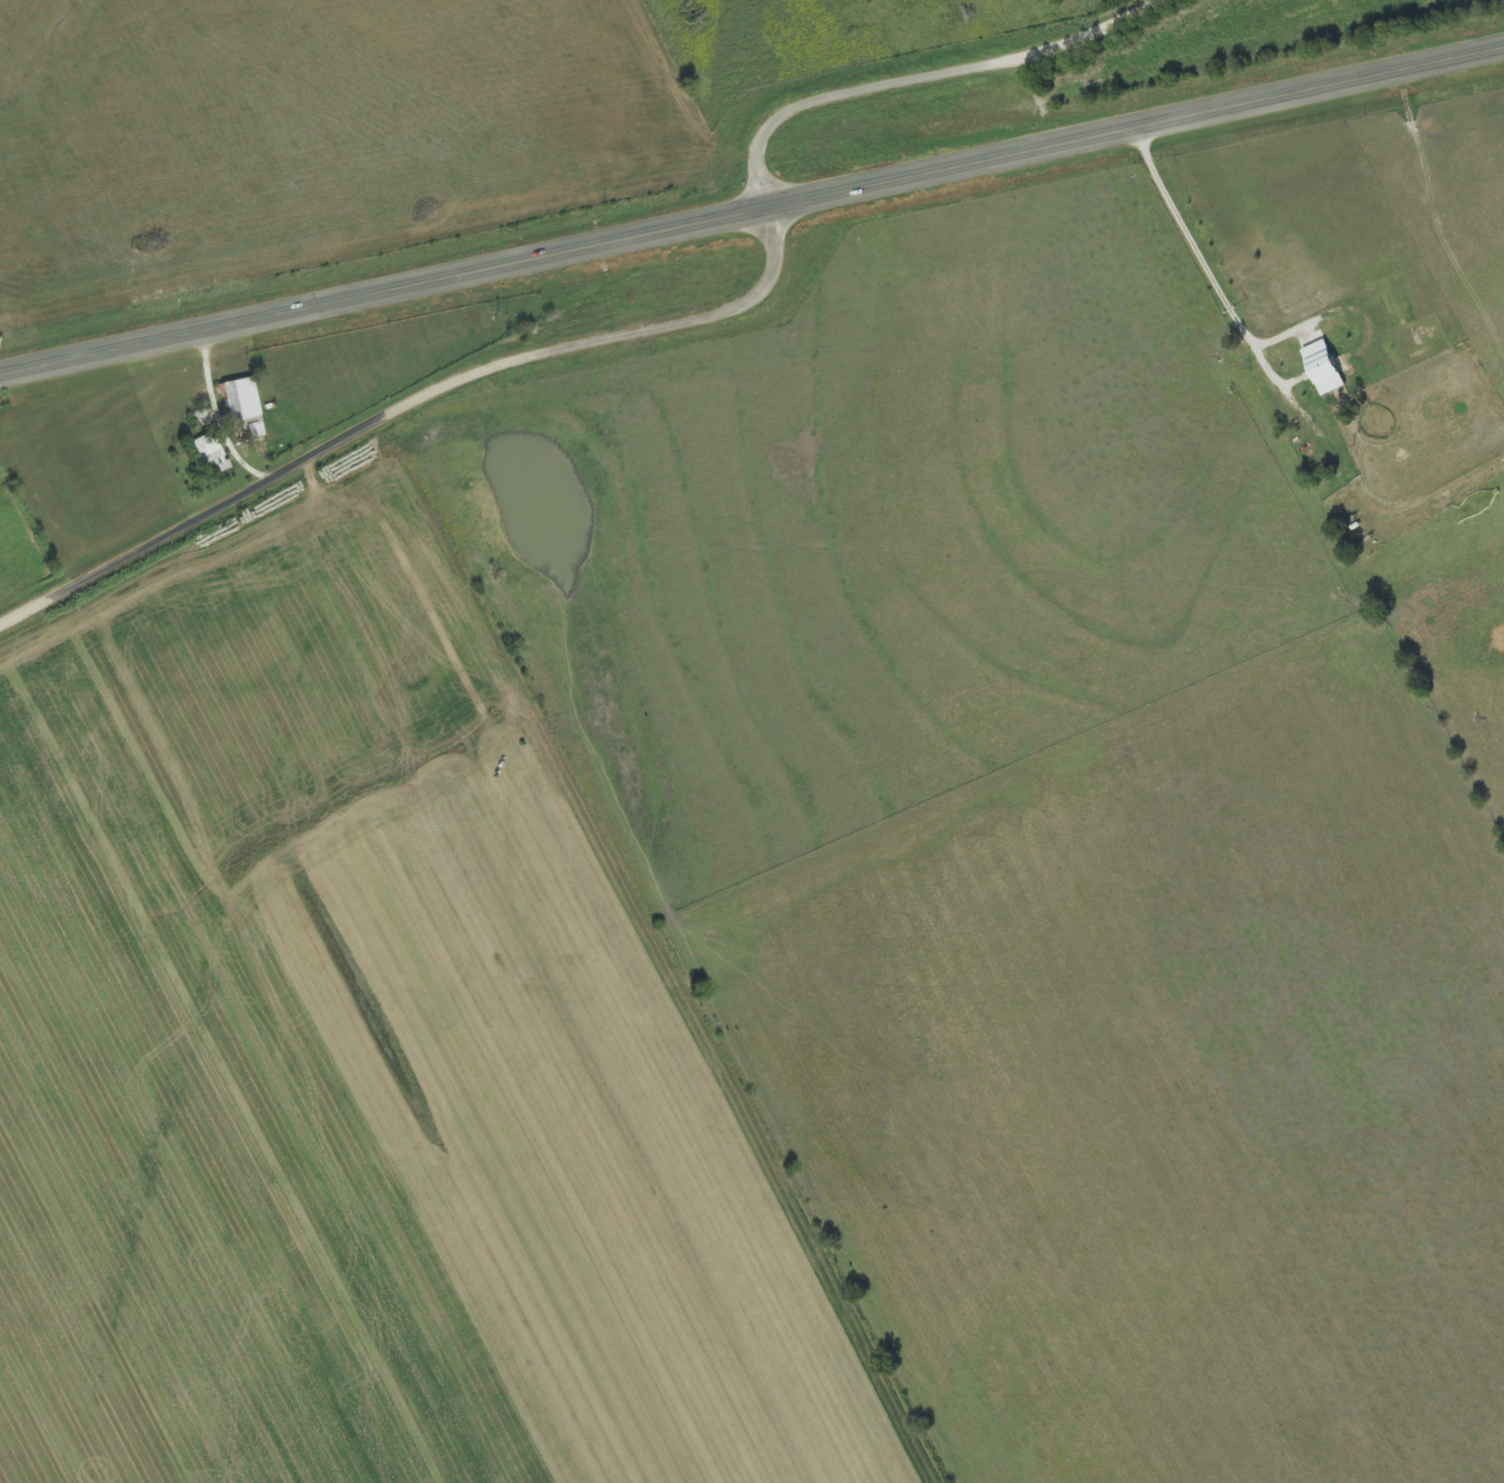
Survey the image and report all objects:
road: (752, 213)
road: (647, 332)
building: (1321, 369)
building: (236, 400)
road: (232, 408)
building: (250, 431)
building: (208, 453)

